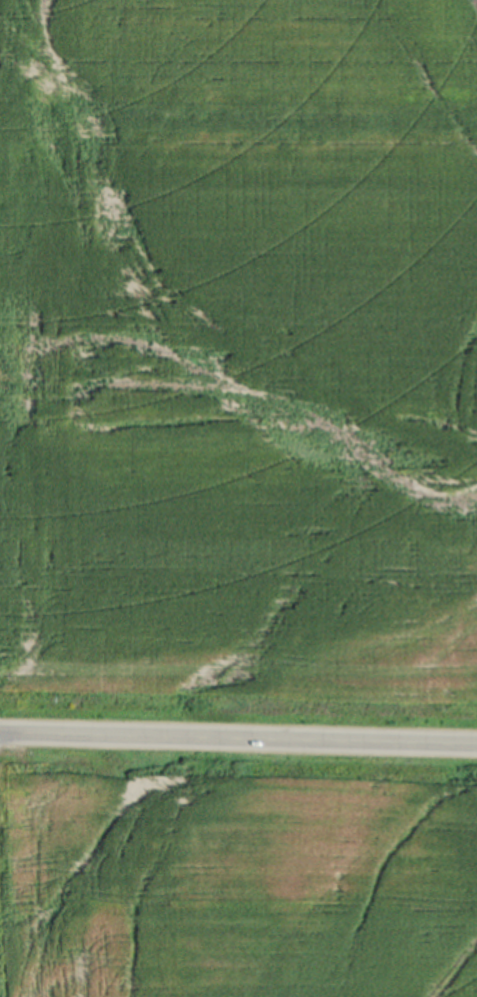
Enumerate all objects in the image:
road: (238, 734)

